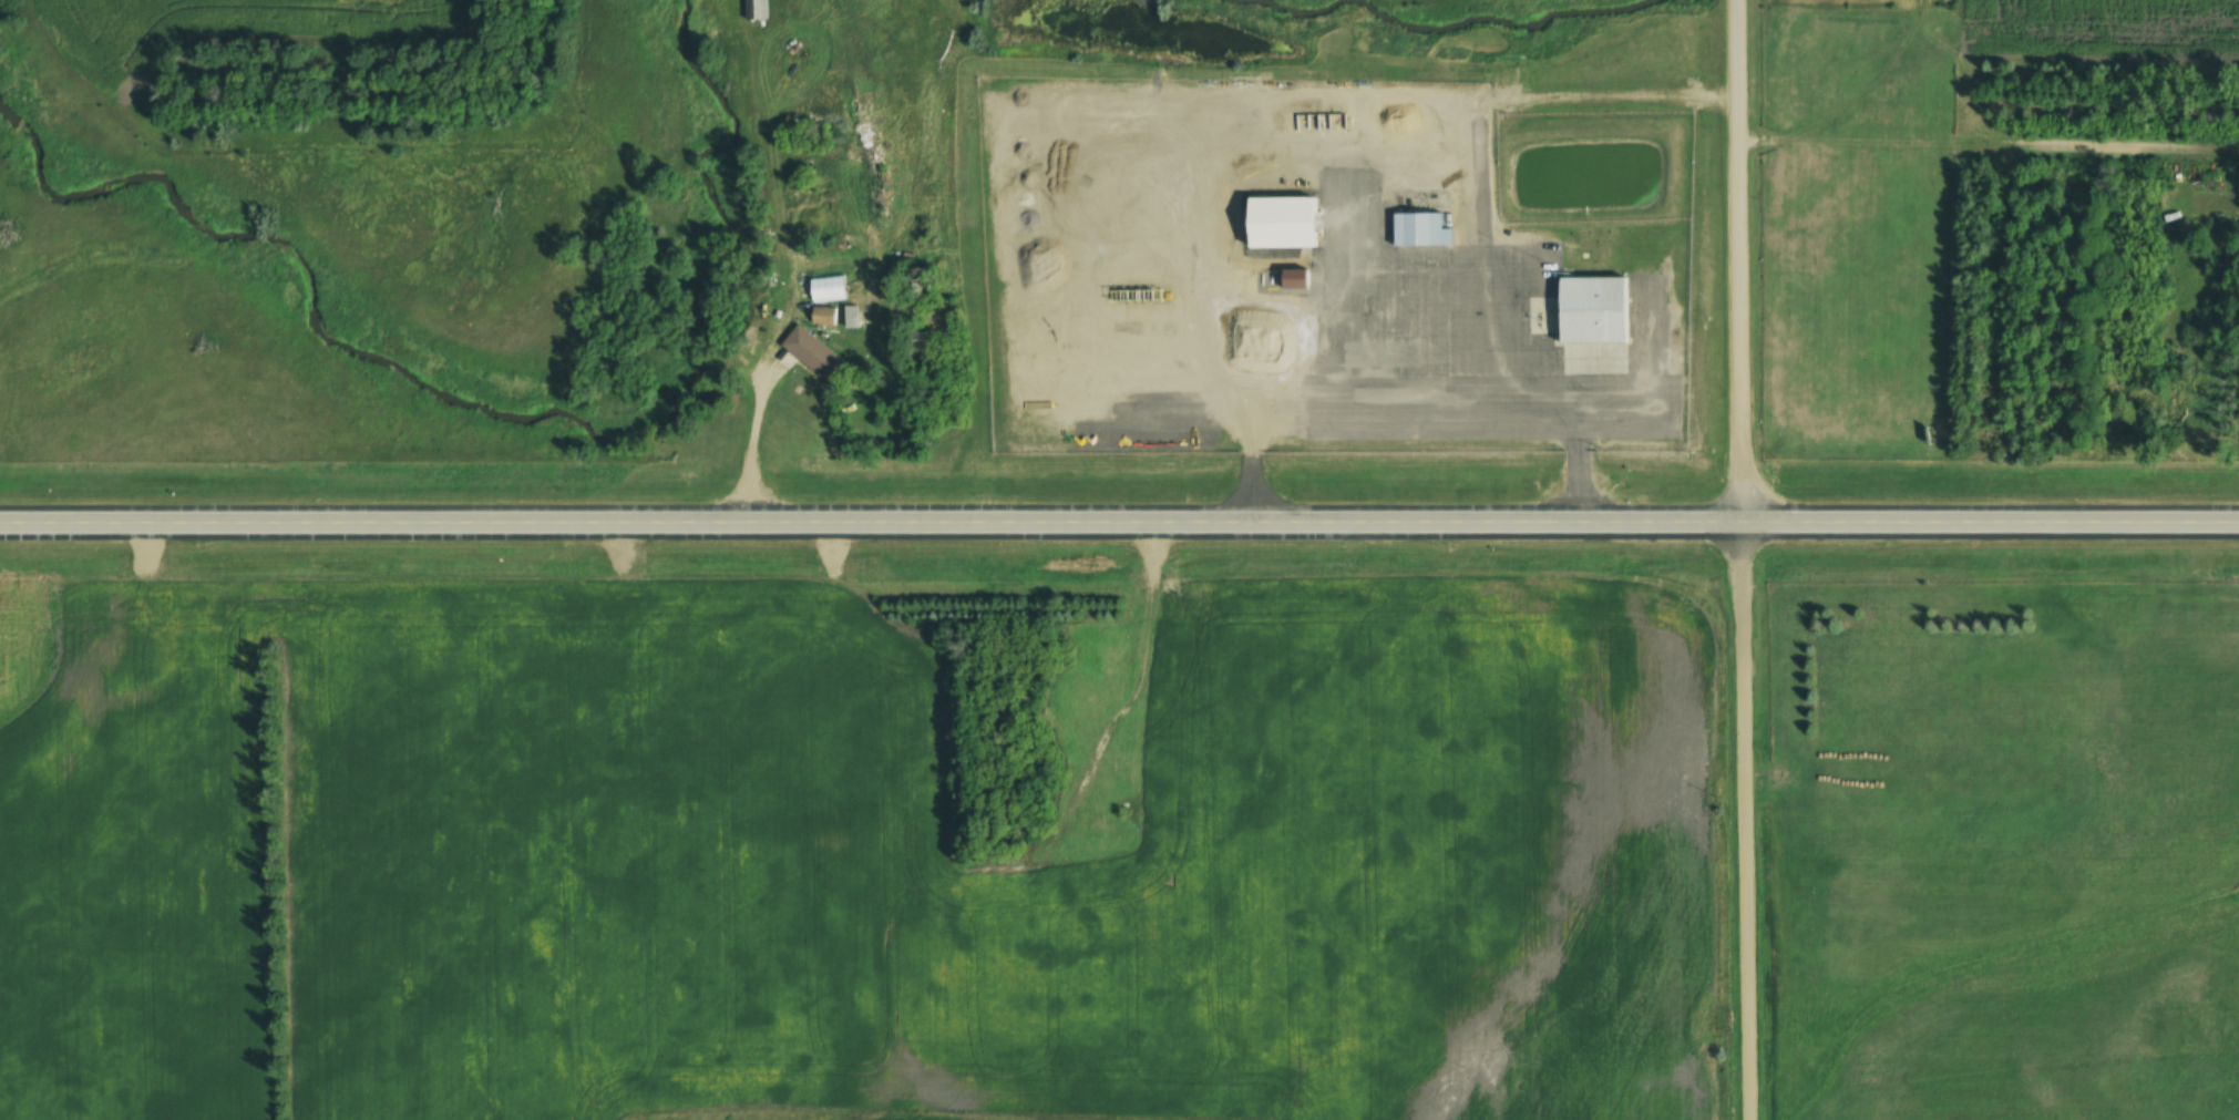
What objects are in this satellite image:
building: (753, 9)
river: (1437, 27)
building: (1352, 121)
building: (1341, 214)
building: (1417, 229)
building: (915, 281)
building: (1590, 310)
building: (849, 316)
building: (811, 353)
river: (492, 425)
road: (1119, 530)
road: (1738, 559)

